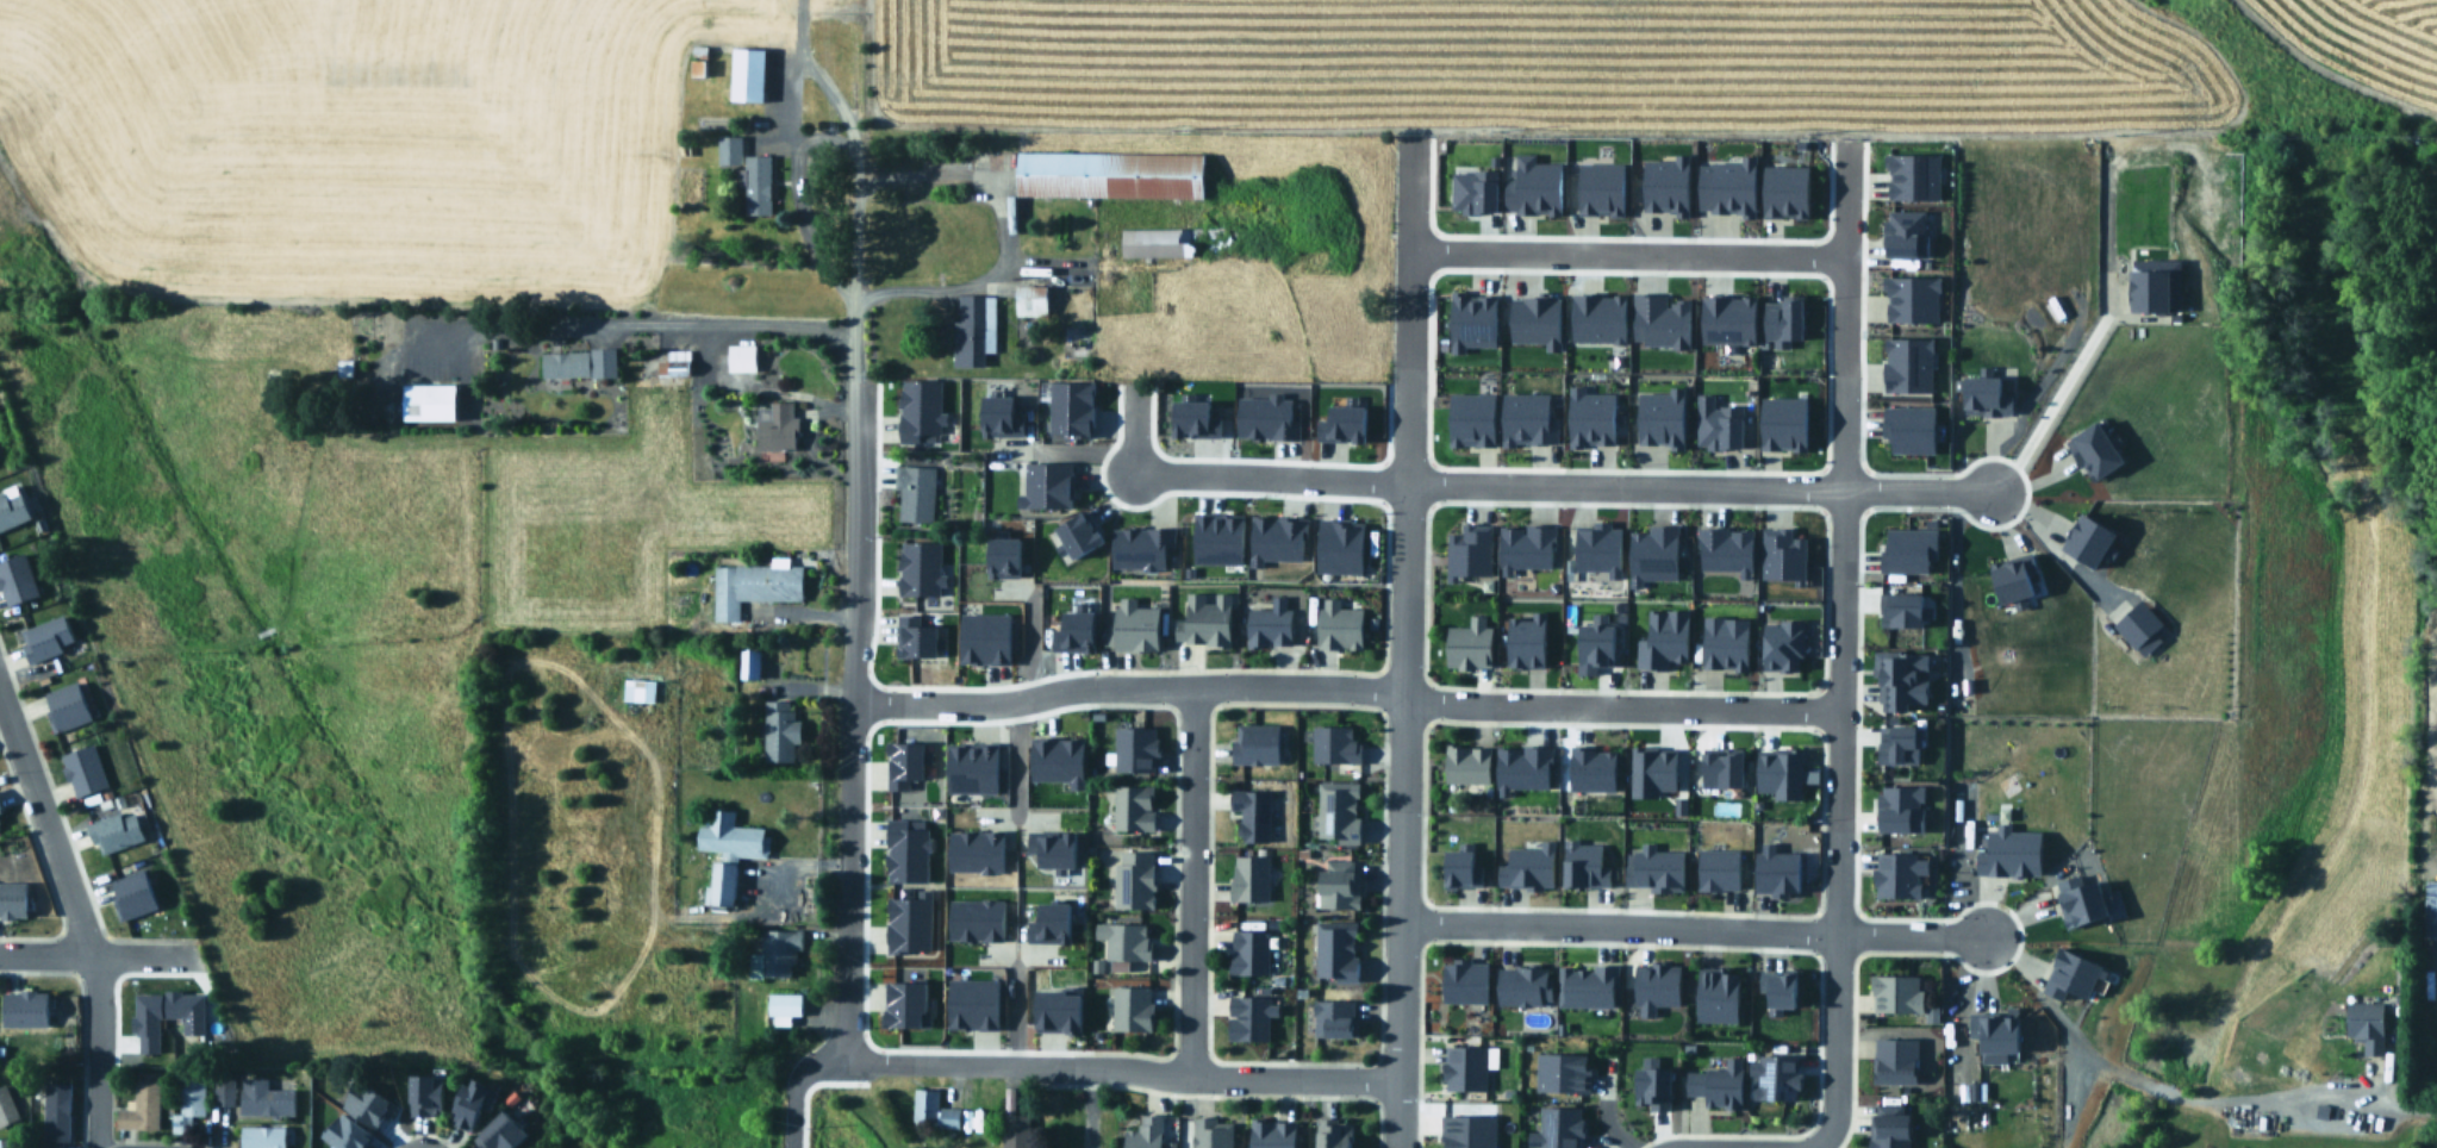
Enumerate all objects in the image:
building: (698, 61)
road: (792, 67)
crop: (1604, 67)
building: (749, 74)
road: (835, 95)
crop: (372, 126)
building: (729, 149)
building: (1111, 174)
building: (1912, 174)
building: (1664, 182)
building: (758, 185)
building: (1531, 185)
building: (1724, 185)
building: (1598, 187)
building: (1781, 188)
building: (1472, 189)
road: (1839, 198)
road: (998, 227)
building: (1902, 231)
building: (1165, 241)
road: (1622, 250)
building: (2151, 282)
building: (1909, 295)
building: (1033, 299)
building: (1595, 316)
building: (1725, 317)
building: (1467, 318)
building: (1532, 318)
building: (1657, 318)
building: (1778, 319)
road: (632, 325)
building: (971, 330)
building: (742, 356)
building: (580, 362)
building: (1907, 362)
building: (675, 363)
road: (1404, 369)
building: (1981, 393)
road: (2046, 395)
building: (432, 401)
building: (1068, 406)
building: (916, 407)
building: (996, 414)
building: (1588, 414)
building: (1189, 416)
building: (1263, 416)
building: (1658, 416)
building: (1467, 417)
building: (1525, 418)
building: (1780, 420)
building: (1339, 422)
building: (1715, 422)
building: (1906, 425)
building: (778, 426)
building: (2090, 448)
road: (1552, 481)
building: (1045, 482)
road: (849, 483)
building: (915, 492)
building: (12, 509)
building: (1074, 530)
building: (1215, 537)
building: (1273, 537)
road: (1837, 538)
road: (2048, 539)
building: (2083, 539)
building: (1138, 544)
building: (1335, 544)
building: (1522, 544)
building: (1595, 545)
building: (1905, 547)
building: (1724, 548)
building: (1466, 549)
building: (1648, 551)
building: (1781, 554)
building: (999, 555)
building: (918, 567)
building: (15, 580)
building: (753, 585)
building: (1901, 607)
building: (1204, 624)
building: (1134, 625)
building: (1340, 625)
building: (2137, 625)
building: (1270, 626)
building: (1070, 630)
building: (914, 636)
building: (981, 636)
building: (1659, 637)
building: (46, 638)
building: (1522, 638)
building: (1721, 641)
building: (1465, 642)
building: (1778, 643)
building: (1590, 644)
building: (750, 662)
building: (1899, 678)
road: (1247, 685)
building: (638, 690)
road: (1743, 700)
building: (67, 706)
building: (780, 730)
building: (1255, 742)
building: (1895, 742)
building: (1335, 743)
building: (1135, 749)
building: (1054, 757)
building: (899, 762)
building: (1469, 763)
building: (967, 766)
building: (1519, 766)
building: (1718, 766)
building: (1589, 767)
building: (1648, 768)
building: (83, 770)
building: (1777, 770)
building: (1896, 806)
building: (1135, 807)
building: (1248, 812)
building: (1339, 812)
building: (1996, 812)
building: (1, 818)
building: (116, 831)
building: (1048, 847)
building: (904, 849)
building: (973, 849)
building: (2007, 850)
building: (734, 859)
building: (1457, 865)
building: (1525, 865)
building: (1652, 867)
building: (1714, 867)
building: (1772, 869)
road: (1401, 871)
building: (1896, 873)
building: (1251, 878)
building: (1135, 880)
road: (1189, 881)
building: (1340, 884)
building: (133, 894)
building: (2084, 899)
building: (13, 900)
building: (2427, 907)
building: (974, 918)
road: (76, 919)
building: (908, 921)
building: (1047, 922)
road: (1691, 930)
building: (1129, 942)
building: (1338, 950)
building: (779, 952)
building: (1251, 953)
road: (98, 955)
building: (2071, 974)
building: (1461, 978)
building: (1521, 982)
building: (1653, 984)
road: (1833, 984)
building: (1588, 985)
building: (1776, 988)
building: (1713, 992)
building: (1893, 992)
building: (967, 1002)
building: (902, 1003)
building: (786, 1005)
building: (26, 1009)
building: (1134, 1009)
building: (1052, 1010)
building: (168, 1012)
building: (1335, 1017)
building: (1249, 1019)
building: (2363, 1023)
building: (1992, 1032)
building: (1896, 1061)
road: (949, 1062)
building: (1465, 1063)
building: (1559, 1068)
building: (1774, 1074)
road: (1230, 1078)
building: (1648, 1080)
building: (1714, 1081)
building: (1970, 1088)
building: (224, 1091)
building: (426, 1094)
building: (266, 1098)
road: (797, 1098)
building: (191, 1099)
road: (2348, 1099)
building: (362, 1103)
building: (473, 1105)
building: (6, 1108)
building: (142, 1108)
building: (934, 1109)
building: (56, 1113)
building: (1554, 1125)
building: (1887, 1125)
building: (1465, 1129)
building: (1016, 1130)
building: (343, 1131)
building: (504, 1133)
building: (1146, 1133)
building: (1213, 1133)
building: (1273, 1134)
building: (1335, 1134)
building: (263, 1137)
building: (1, 1143)
road: (1815, 1144)

